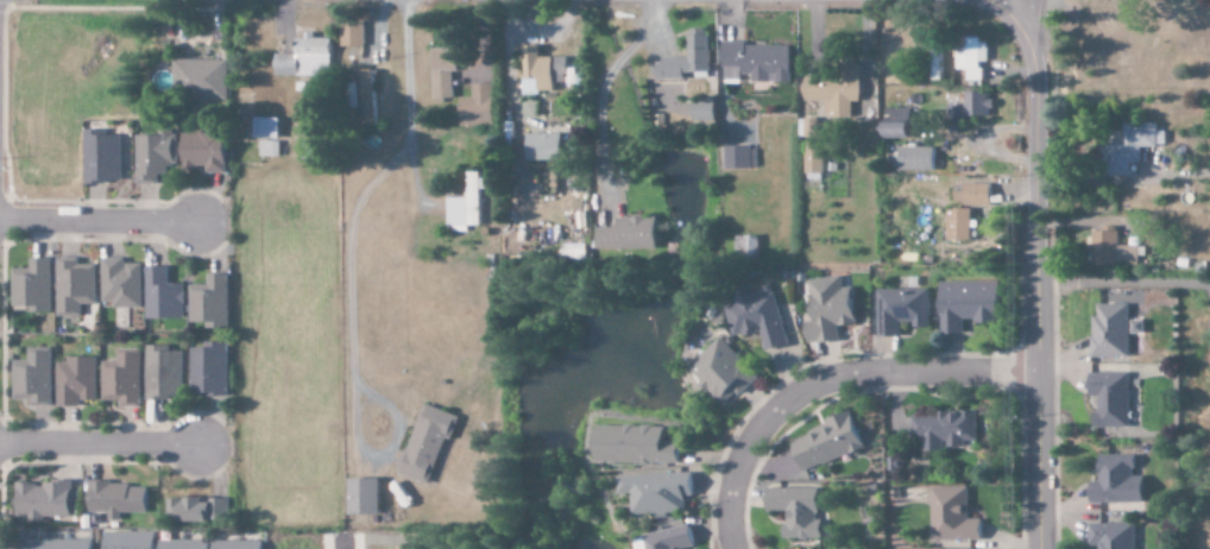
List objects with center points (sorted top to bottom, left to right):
road: (1022, 7)
building: (353, 36)
building: (973, 58)
building: (308, 59)
building: (687, 59)
building: (758, 63)
building: (447, 68)
building: (543, 72)
building: (207, 81)
building: (837, 91)
road: (599, 96)
building: (370, 99)
building: (479, 107)
building: (970, 109)
building: (704, 112)
building: (899, 124)
building: (269, 135)
building: (546, 147)
building: (1122, 150)
building: (208, 152)
building: (157, 156)
building: (103, 158)
building: (738, 158)
building: (814, 158)
building: (913, 159)
building: (968, 195)
building: (467, 204)
road: (168, 222)
building: (956, 223)
building: (629, 234)
building: (746, 247)
building: (1108, 250)
road: (1035, 263)
building: (122, 284)
building: (76, 286)
building: (34, 288)
building: (165, 296)
building: (212, 303)
building: (963, 304)
building: (825, 309)
building: (899, 310)
building: (754, 318)
building: (1111, 324)
building: (212, 371)
building: (718, 372)
building: (165, 374)
building: (36, 378)
road: (824, 378)
building: (125, 379)
building: (78, 383)
building: (1107, 398)
building: (941, 430)
building: (428, 443)
building: (824, 443)
road: (169, 444)
building: (629, 446)
building: (1113, 481)
building: (654, 492)
road: (326, 496)
building: (366, 498)
building: (119, 499)
building: (45, 500)
building: (198, 511)
building: (793, 511)
building: (949, 515)
building: (1109, 536)
building: (663, 539)
building: (131, 541)
road: (342, 541)
building: (55, 544)
building: (184, 544)
building: (239, 544)

